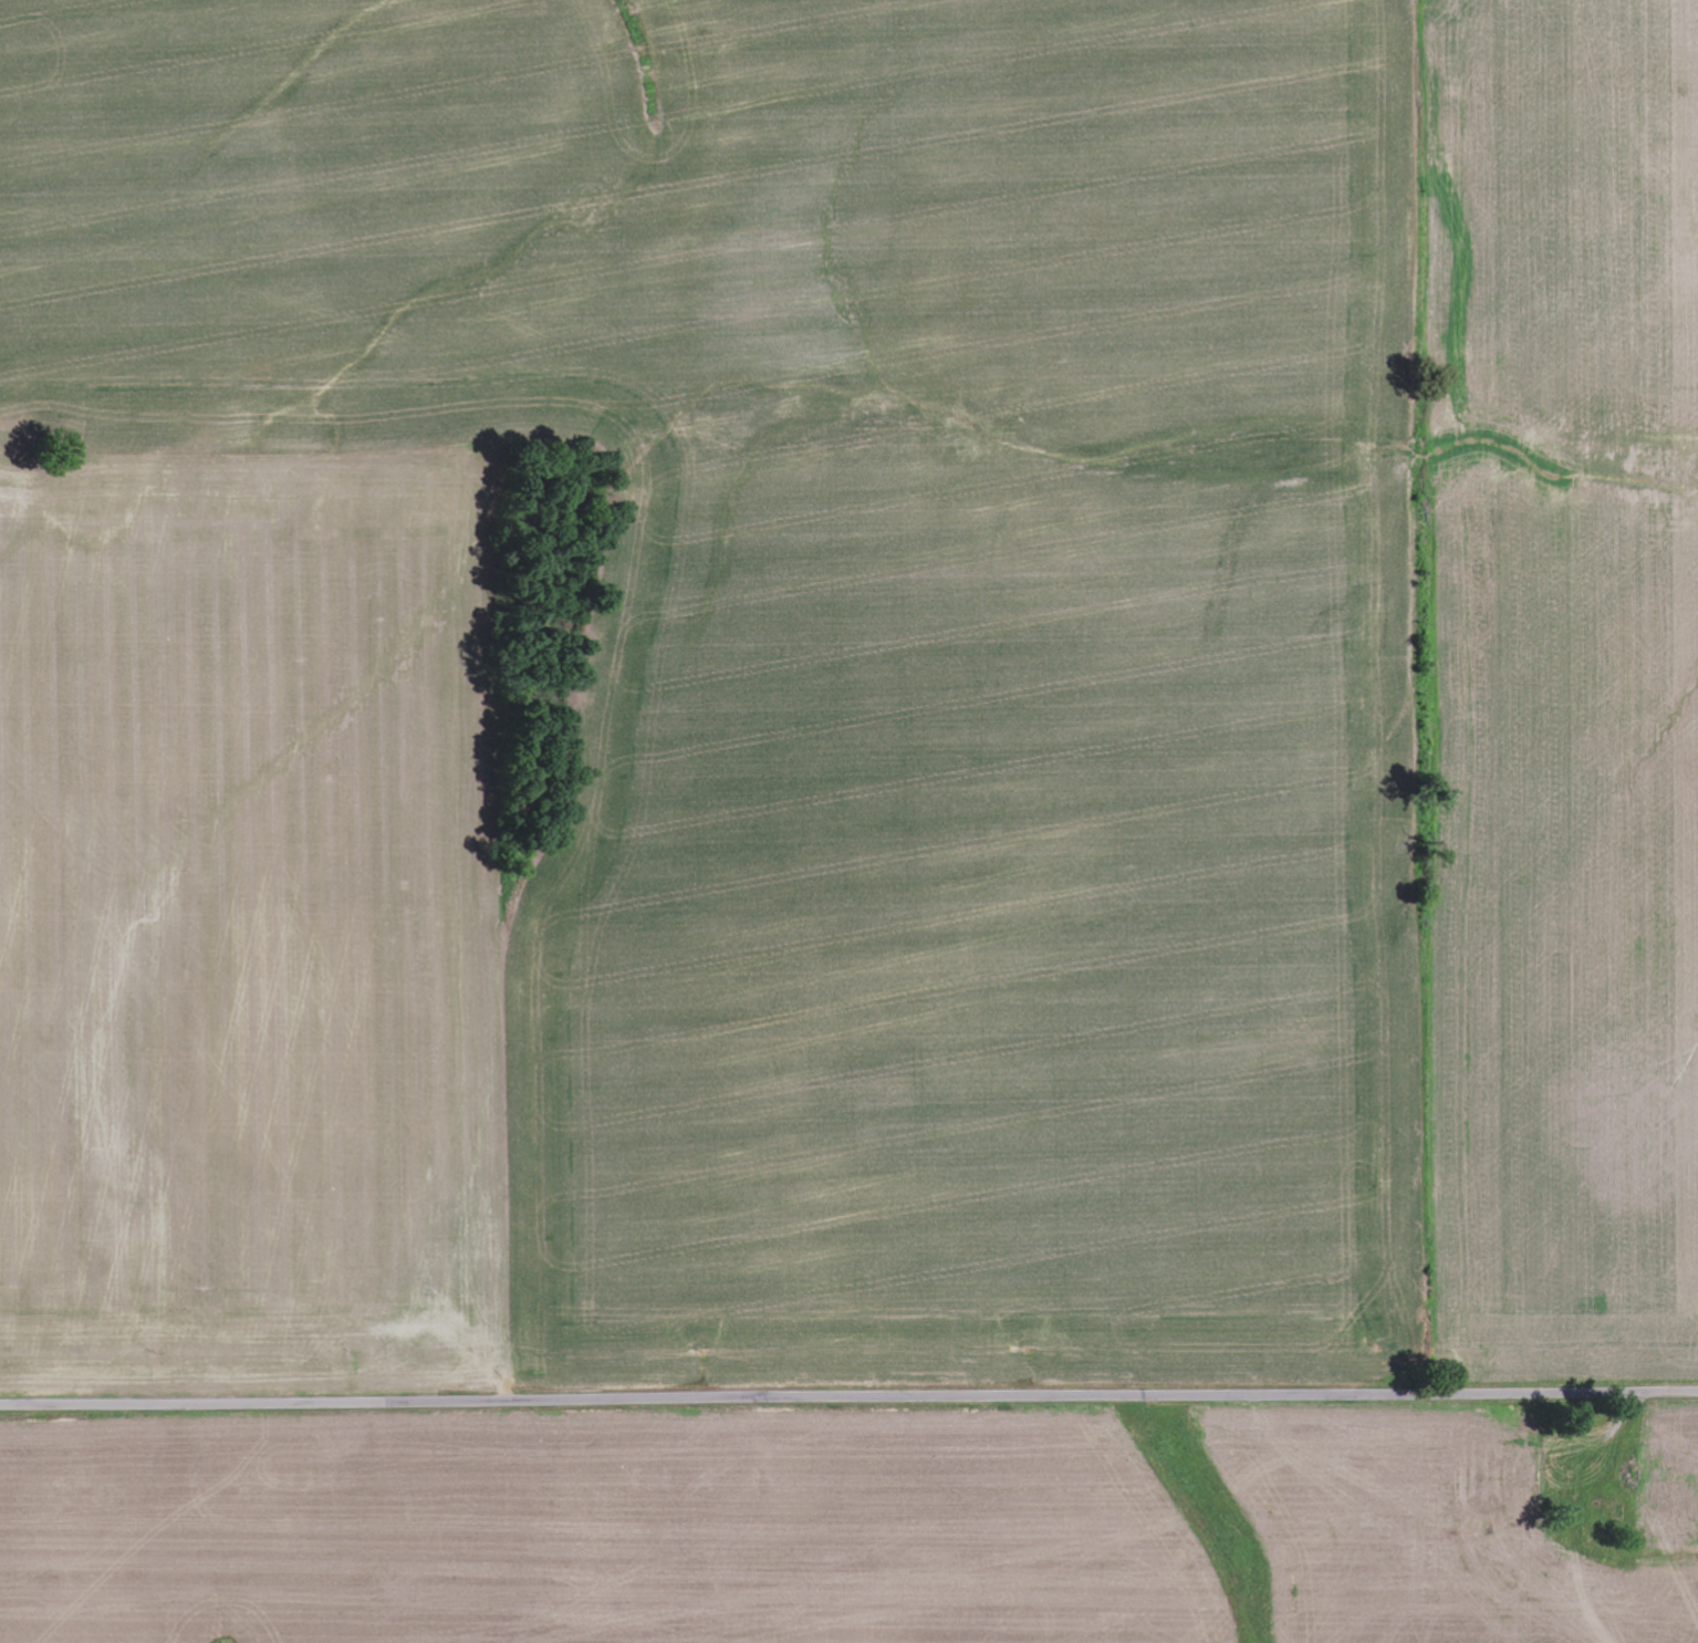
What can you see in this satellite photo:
road: (848, 1394)

